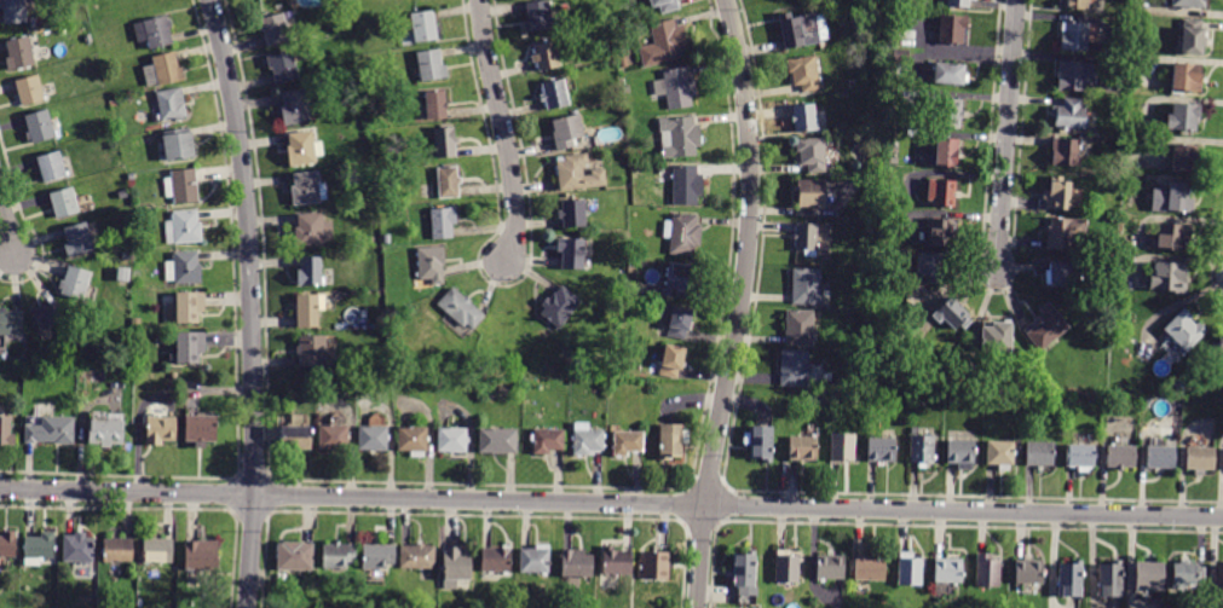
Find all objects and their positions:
building: (339, 2)
building: (957, 2)
building: (1077, 4)
building: (1189, 4)
building: (667, 5)
building: (15, 11)
building: (538, 17)
building: (34, 23)
building: (607, 24)
building: (425, 27)
building: (275, 29)
building: (953, 29)
building: (155, 31)
building: (798, 31)
building: (1074, 36)
building: (1193, 36)
building: (664, 44)
building: (19, 53)
building: (547, 56)
building: (431, 65)
building: (283, 69)
building: (165, 71)
building: (806, 74)
building: (948, 74)
building: (1075, 75)
building: (1187, 77)
building: (855, 83)
building: (29, 89)
building: (680, 89)
building: (554, 94)
building: (171, 104)
building: (437, 105)
building: (296, 109)
building: (947, 112)
building: (1069, 114)
building: (1183, 116)
building: (806, 118)
building: (40, 127)
building: (566, 131)
road: (503, 133)
road: (1006, 134)
building: (679, 138)
building: (445, 143)
building: (177, 147)
building: (304, 147)
building: (947, 152)
building: (1066, 152)
building: (813, 154)
building: (1183, 157)
building: (51, 167)
building: (578, 173)
building: (448, 181)
building: (687, 185)
building: (181, 186)
building: (308, 187)
building: (942, 192)
building: (812, 193)
building: (1056, 195)
building: (1179, 197)
building: (64, 202)
building: (573, 213)
building: (443, 222)
building: (183, 227)
road: (6, 228)
building: (313, 228)
building: (940, 232)
building: (1066, 233)
building: (683, 234)
building: (1172, 236)
building: (807, 237)
building: (387, 238)
building: (77, 239)
building: (572, 253)
building: (431, 264)
building: (931, 267)
building: (184, 268)
building: (633, 270)
building: (310, 272)
building: (122, 274)
building: (1065, 274)
building: (615, 277)
building: (680, 277)
building: (1169, 278)
building: (76, 283)
building: (806, 286)
road: (249, 302)
road: (740, 303)
building: (189, 306)
building: (461, 307)
building: (560, 307)
building: (310, 309)
building: (952, 314)
building: (47, 315)
building: (676, 319)
building: (11, 322)
building: (380, 322)
building: (800, 328)
building: (1048, 328)
building: (1184, 330)
building: (997, 336)
building: (189, 346)
building: (312, 351)
building: (1219, 354)
building: (673, 360)
building: (619, 363)
building: (795, 367)
building: (172, 375)
building: (1179, 387)
building: (1029, 399)
building: (1147, 403)
building: (1016, 418)
building: (5, 428)
building: (160, 429)
building: (200, 429)
building: (51, 430)
building: (108, 430)
building: (334, 436)
building: (296, 438)
building: (374, 438)
building: (454, 439)
building: (414, 440)
building: (498, 440)
building: (549, 440)
building: (587, 440)
building: (670, 441)
building: (628, 442)
building: (761, 442)
building: (842, 447)
building: (803, 448)
building: (881, 450)
building: (922, 450)
building: (962, 453)
building: (1002, 453)
building: (1040, 453)
building: (1161, 456)
building: (1080, 457)
building: (1120, 457)
building: (1200, 459)
road: (611, 503)
building: (7, 544)
building: (39, 548)
building: (77, 548)
building: (117, 550)
building: (157, 550)
building: (202, 555)
building: (339, 555)
building: (295, 556)
building: (377, 556)
building: (419, 556)
building: (496, 558)
building: (536, 558)
building: (617, 561)
building: (577, 563)
building: (657, 563)
building: (456, 566)
building: (788, 567)
building: (831, 567)
building: (871, 568)
building: (911, 569)
building: (950, 569)
building: (988, 571)
building: (1031, 572)
building: (745, 573)
building: (1188, 574)
building: (1149, 575)
building: (169, 578)
building: (1072, 580)
building: (1113, 580)
building: (1221, 580)

